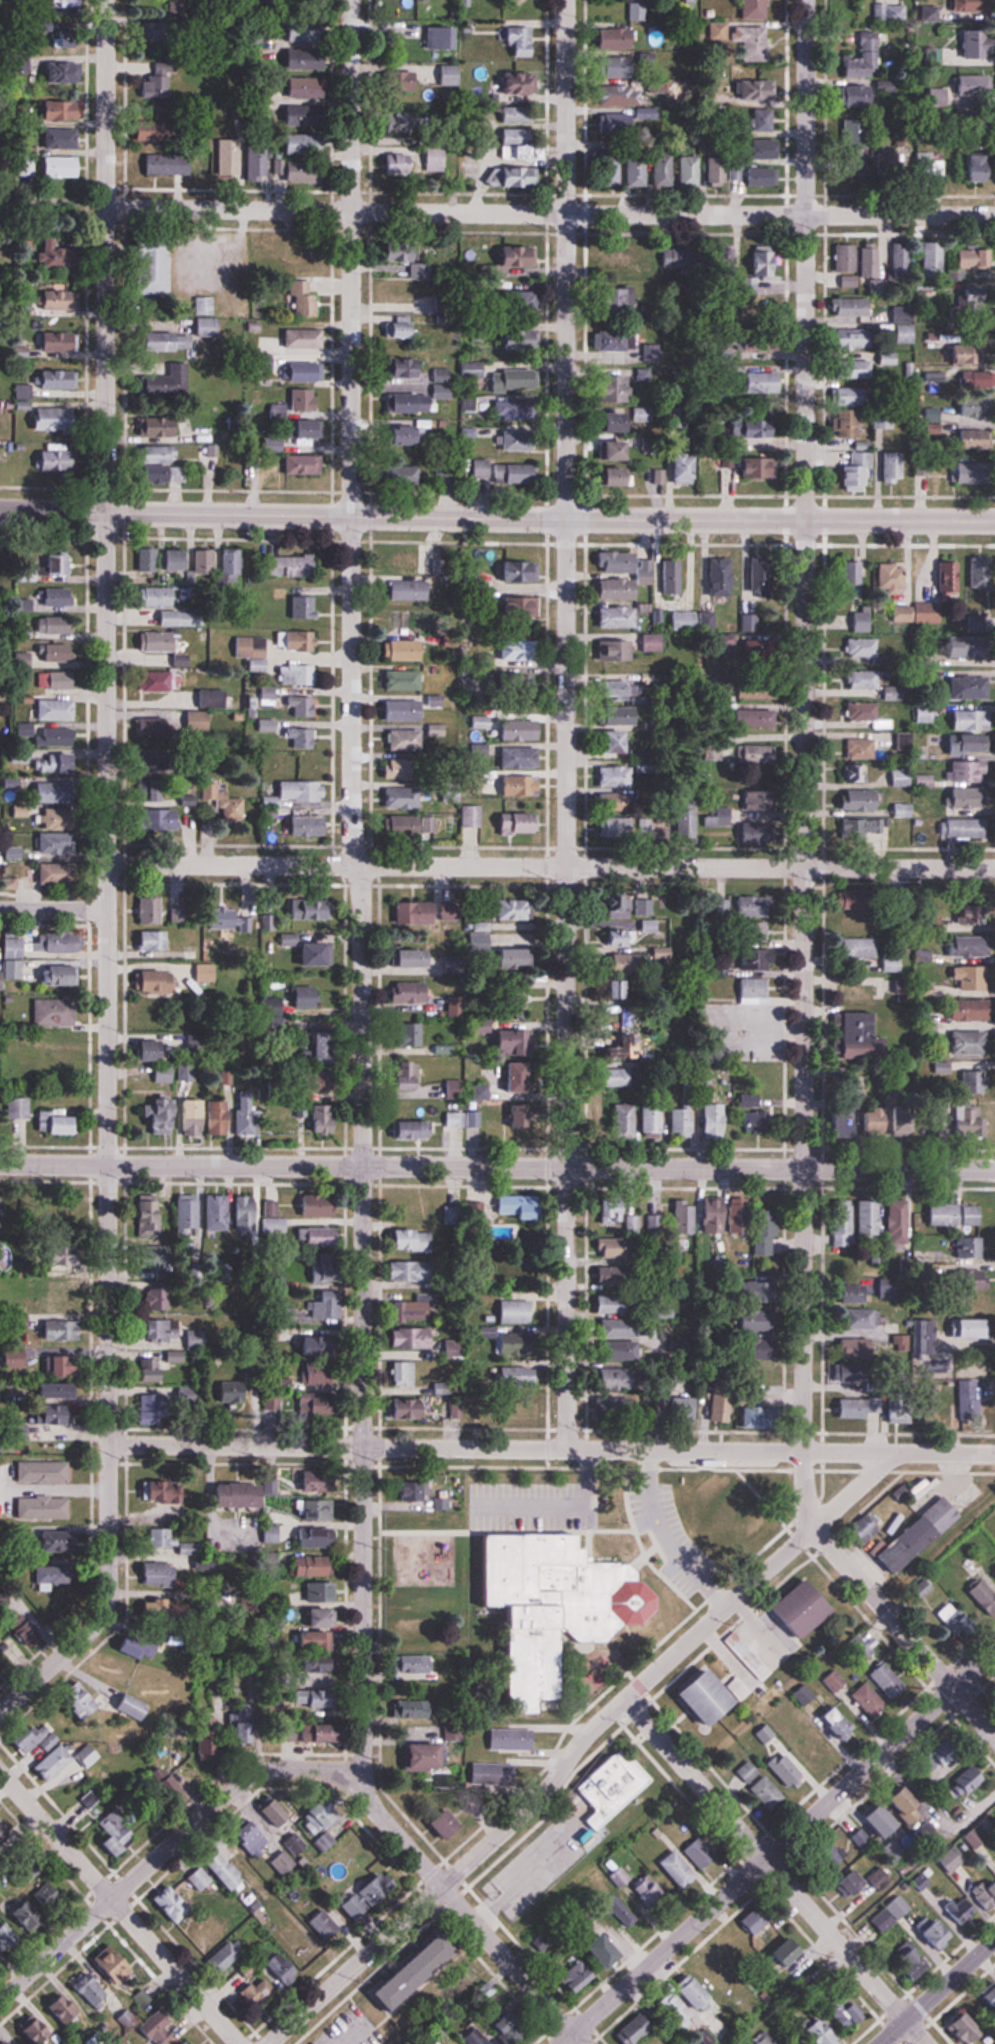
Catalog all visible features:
building: (73, 3)
building: (757, 9)
building: (897, 12)
building: (720, 31)
building: (166, 33)
building: (621, 38)
building: (753, 38)
building: (522, 41)
building: (974, 44)
building: (864, 56)
building: (451, 75)
building: (523, 83)
building: (622, 84)
building: (975, 84)
building: (154, 87)
building: (860, 94)
building: (61, 110)
building: (519, 113)
building: (301, 114)
building: (764, 118)
building: (621, 122)
building: (407, 123)
building: (856, 134)
building: (62, 138)
building: (305, 142)
building: (523, 146)
building: (230, 157)
building: (925, 157)
building: (260, 161)
building: (169, 163)
building: (890, 163)
building: (400, 164)
building: (63, 167)
building: (610, 167)
building: (665, 168)
building: (638, 170)
building: (689, 170)
building: (720, 170)
building: (310, 174)
building: (762, 174)
building: (516, 178)
road: (550, 215)
building: (615, 257)
building: (520, 258)
building: (671, 258)
building: (901, 258)
building: (847, 259)
building: (933, 260)
building: (970, 260)
building: (762, 261)
building: (872, 262)
building: (651, 270)
building: (422, 272)
building: (158, 273)
building: (850, 281)
building: (876, 286)
building: (57, 298)
building: (307, 303)
building: (853, 307)
building: (621, 321)
building: (905, 326)
building: (210, 328)
building: (402, 331)
building: (305, 339)
building: (857, 339)
building: (53, 340)
building: (171, 342)
building: (653, 353)
building: (889, 358)
building: (858, 369)
building: (308, 372)
building: (409, 376)
building: (936, 377)
building: (63, 380)
building: (978, 380)
building: (167, 384)
building: (622, 389)
building: (444, 391)
building: (850, 396)
building: (306, 400)
building: (414, 403)
building: (517, 410)
building: (933, 413)
building: (884, 419)
building: (627, 420)
building: (57, 421)
building: (166, 429)
building: (853, 429)
building: (311, 430)
building: (410, 436)
building: (208, 451)
building: (620, 451)
building: (163, 455)
building: (58, 460)
building: (895, 467)
building: (766, 468)
building: (484, 469)
building: (686, 469)
building: (921, 469)
building: (862, 471)
building: (523, 473)
building: (974, 473)
building: (168, 475)
building: (412, 476)
building: (621, 478)
road: (497, 518)
building: (178, 561)
building: (207, 562)
building: (235, 562)
building: (404, 562)
building: (60, 565)
building: (622, 565)
building: (292, 566)
building: (521, 570)
building: (982, 572)
building: (855, 574)
building: (894, 576)
building: (939, 577)
building: (717, 578)
building: (620, 589)
building: (409, 590)
building: (55, 597)
building: (161, 597)
building: (532, 604)
building: (303, 607)
building: (904, 613)
building: (618, 618)
building: (182, 619)
building: (407, 619)
building: (862, 619)
building: (692, 621)
building: (51, 624)
building: (974, 636)
building: (159, 641)
building: (300, 641)
building: (863, 647)
building: (407, 650)
building: (615, 650)
building: (519, 651)
building: (61, 652)
building: (300, 675)
building: (57, 679)
building: (157, 680)
building: (406, 680)
building: (866, 680)
building: (971, 688)
building: (628, 693)
building: (302, 706)
building: (57, 709)
building: (404, 709)
building: (868, 714)
building: (622, 715)
building: (758, 718)
building: (972, 719)
road: (567, 724)
building: (166, 725)
road: (805, 725)
building: (520, 729)
building: (61, 736)
building: (303, 739)
building: (404, 739)
building: (904, 740)
building: (618, 742)
building: (970, 744)
building: (862, 748)
building: (762, 755)
building: (166, 757)
building: (521, 757)
building: (39, 758)
building: (401, 769)
building: (970, 770)
building: (855, 772)
building: (903, 777)
building: (615, 778)
building: (925, 779)
building: (523, 785)
building: (302, 792)
building: (403, 798)
building: (971, 798)
building: (864, 799)
building: (755, 801)
building: (231, 806)
building: (904, 810)
building: (177, 811)
building: (53, 815)
building: (473, 815)
building: (687, 821)
building: (309, 822)
building: (521, 823)
building: (414, 825)
building: (619, 825)
building: (863, 827)
building: (967, 828)
building: (59, 841)
building: (14, 851)
road: (550, 866)
building: (59, 872)
road: (107, 877)
road: (361, 897)
building: (756, 906)
building: (643, 907)
building: (312, 910)
building: (623, 910)
road: (53, 911)
building: (504, 912)
building: (438, 913)
building: (228, 920)
building: (650, 926)
building: (622, 937)
building: (155, 939)
building: (43, 941)
building: (970, 946)
building: (864, 947)
building: (316, 954)
building: (415, 957)
building: (514, 957)
building: (764, 958)
building: (894, 962)
building: (971, 977)
building: (159, 980)
building: (755, 988)
building: (413, 992)
building: (308, 996)
building: (619, 1002)
building: (56, 1010)
building: (972, 1010)
building: (414, 1033)
building: (862, 1035)
building: (972, 1043)
building: (322, 1044)
building: (621, 1047)
building: (156, 1050)
building: (67, 1059)
building: (411, 1077)
building: (621, 1077)
building: (457, 1089)
building: (19, 1107)
building: (600, 1107)
building: (295, 1110)
building: (247, 1113)
building: (165, 1116)
building: (197, 1117)
building: (221, 1117)
building: (325, 1118)
building: (463, 1118)
building: (652, 1118)
building: (625, 1120)
building: (681, 1120)
building: (714, 1120)
building: (900, 1120)
building: (757, 1122)
building: (60, 1123)
building: (852, 1123)
building: (971, 1125)
building: (410, 1128)
road: (497, 1167)
building: (320, 1205)
building: (61, 1211)
building: (218, 1212)
building: (189, 1213)
building: (247, 1213)
building: (455, 1214)
building: (150, 1215)
building: (616, 1215)
building: (744, 1215)
building: (958, 1215)
building: (869, 1218)
building: (900, 1222)
building: (275, 1224)
building: (845, 1225)
building: (505, 1231)
building: (319, 1236)
building: (414, 1240)
building: (766, 1241)
building: (970, 1246)
building: (614, 1247)
building: (327, 1269)
building: (412, 1271)
building: (618, 1275)
building: (65, 1291)
building: (172, 1297)
building: (978, 1302)
building: (614, 1303)
building: (327, 1305)
building: (419, 1308)
building: (517, 1311)
building: (860, 1319)
building: (620, 1327)
building: (971, 1328)
building: (62, 1329)
building: (163, 1329)
building: (414, 1337)
building: (928, 1337)
building: (515, 1343)
building: (319, 1346)
building: (619, 1350)
building: (16, 1358)
building: (57, 1366)
building: (161, 1369)
building: (404, 1372)
building: (520, 1376)
building: (618, 1378)
building: (61, 1389)
building: (232, 1390)
building: (310, 1390)
building: (160, 1406)
building: (619, 1406)
building: (413, 1407)
building: (856, 1408)
building: (901, 1409)
building: (60, 1414)
road: (551, 1448)
building: (44, 1472)
building: (321, 1482)
building: (162, 1489)
building: (244, 1495)
road: (558, 1502)
building: (44, 1508)
building: (321, 1509)
building: (283, 1516)
building: (865, 1525)
building: (306, 1537)
road: (665, 1538)
building: (164, 1539)
building: (315, 1567)
building: (161, 1575)
building: (316, 1592)
road: (878, 1602)
building: (560, 1606)
building: (807, 1608)
building: (948, 1611)
building: (323, 1617)
building: (320, 1641)
building: (749, 1656)
building: (414, 1664)
building: (713, 1697)
building: (315, 1698)
building: (83, 1703)
building: (134, 1707)
building: (413, 1708)
building: (839, 1723)
building: (240, 1727)
building: (511, 1739)
road: (579, 1746)
building: (44, 1749)
building: (88, 1755)
building: (430, 1756)
building: (748, 1771)
building: (786, 1772)
building: (496, 1774)
building: (970, 1778)
building: (615, 1786)
building: (768, 1792)
building: (909, 1810)
building: (276, 1816)
building: (882, 1821)
building: (322, 1822)
building: (451, 1824)
building: (2, 1830)
building: (116, 1835)
building: (256, 1841)
road: (168, 1847)
road: (782, 1849)
building: (701, 1852)
building: (348, 1858)
building: (283, 1863)
building: (680, 1868)
road: (776, 1872)
building: (222, 1874)
building: (621, 1876)
building: (881, 1877)
building: (200, 1879)
building: (855, 1881)
building: (47, 1890)
building: (651, 1893)
building: (371, 1896)
building: (172, 1903)
building: (899, 1906)
road: (119, 1907)
building: (961, 1907)
building: (622, 1909)
building: (28, 1915)
road: (471, 1917)
building: (757, 1919)
building: (326, 1923)
building: (210, 1932)
building: (939, 1932)
building: (7, 1936)
building: (303, 1943)
building: (790, 1948)
building: (608, 1950)
building: (226, 1955)
building: (115, 1957)
building: (249, 1968)
building: (286, 1968)
building: (418, 1972)
building: (580, 1972)
building: (714, 1974)
building: (93, 1989)
building: (259, 1990)
road: (937, 1992)
building: (695, 1994)
building: (745, 1994)
building: (65, 2010)
building: (848, 2012)
building: (674, 2014)
building: (159, 2027)
building: (512, 2028)
building: (642, 2032)
building: (824, 2032)
building: (476, 2038)
building: (97, 2039)
building: (187, 2042)
building: (791, 2042)

